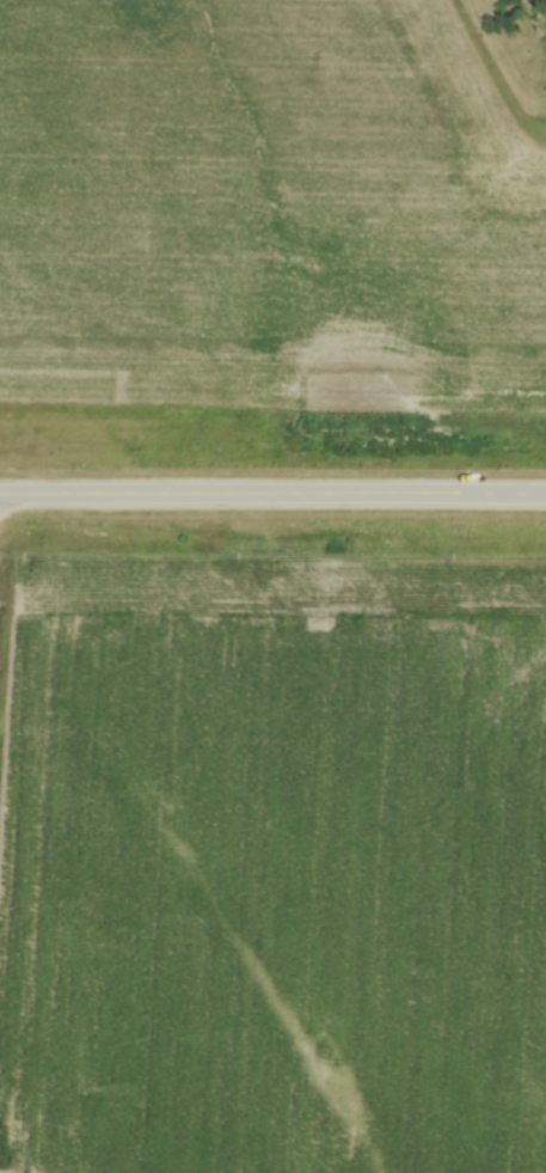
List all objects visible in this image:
road: (272, 495)

